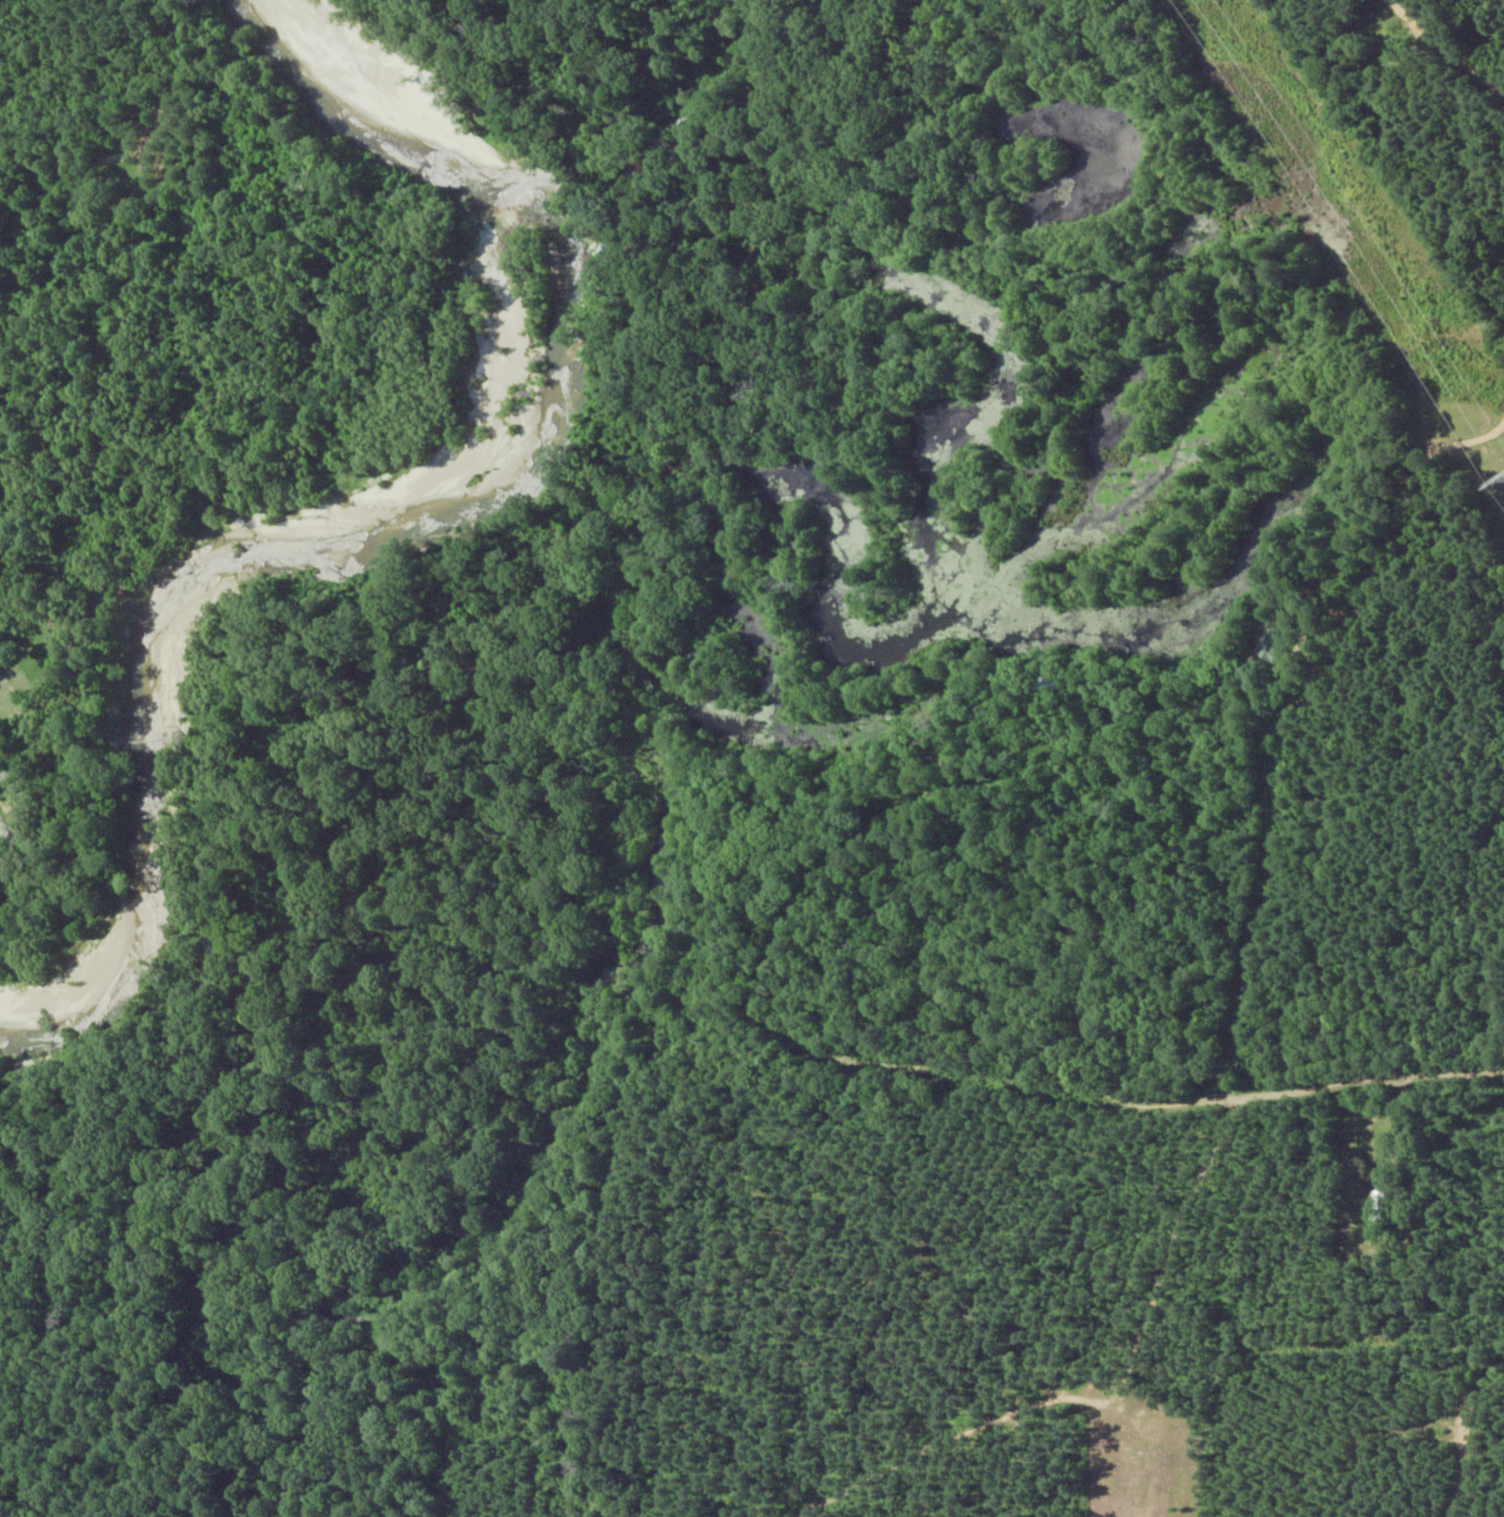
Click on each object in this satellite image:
road: (448, 279)
road: (1023, 416)

